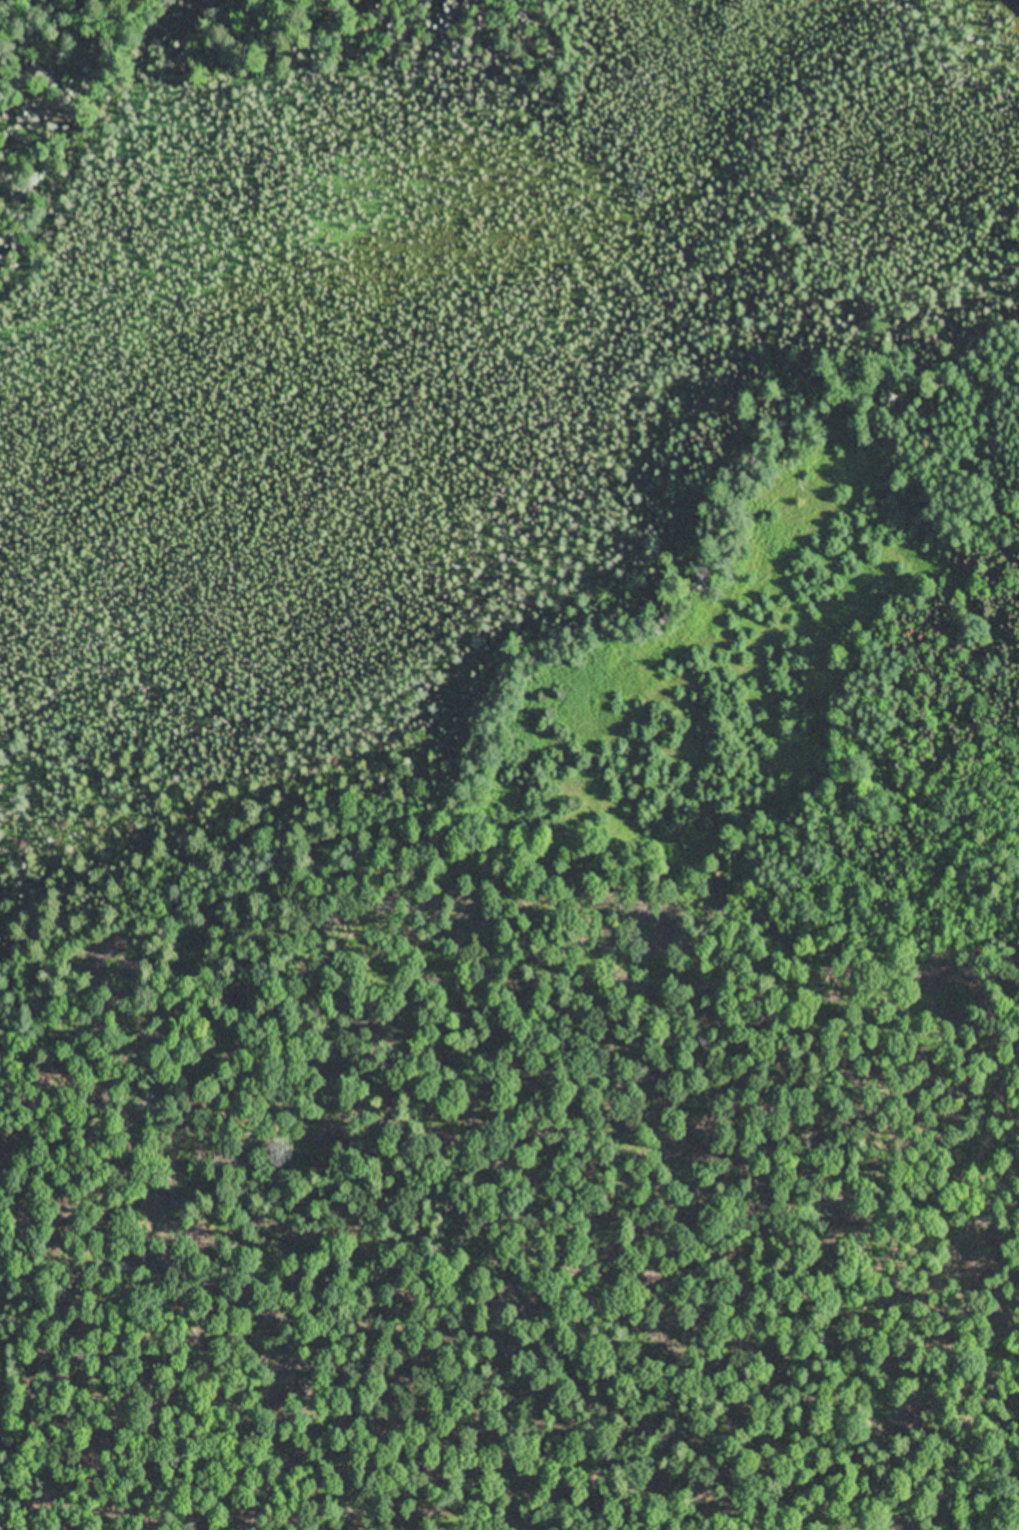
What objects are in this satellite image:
road: (940, 1348)

